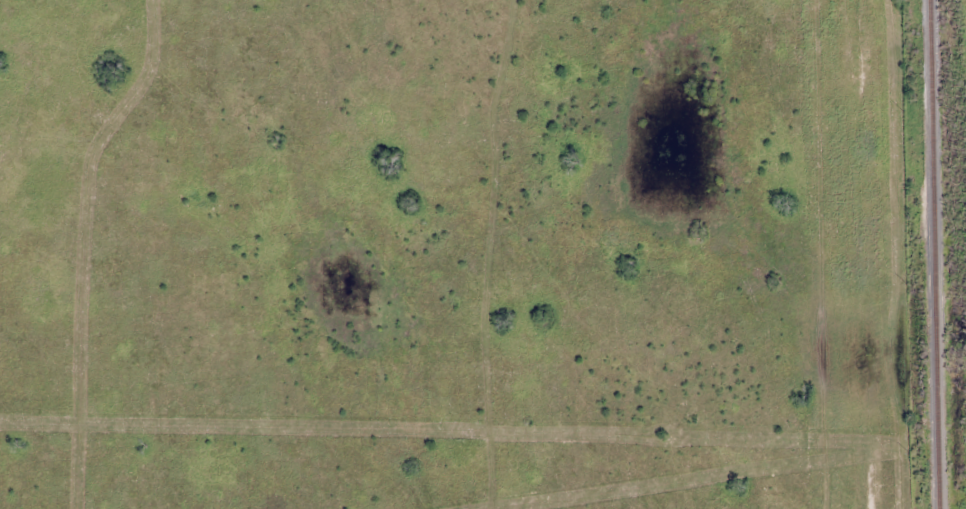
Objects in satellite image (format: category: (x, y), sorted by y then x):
railway: (935, 254)

